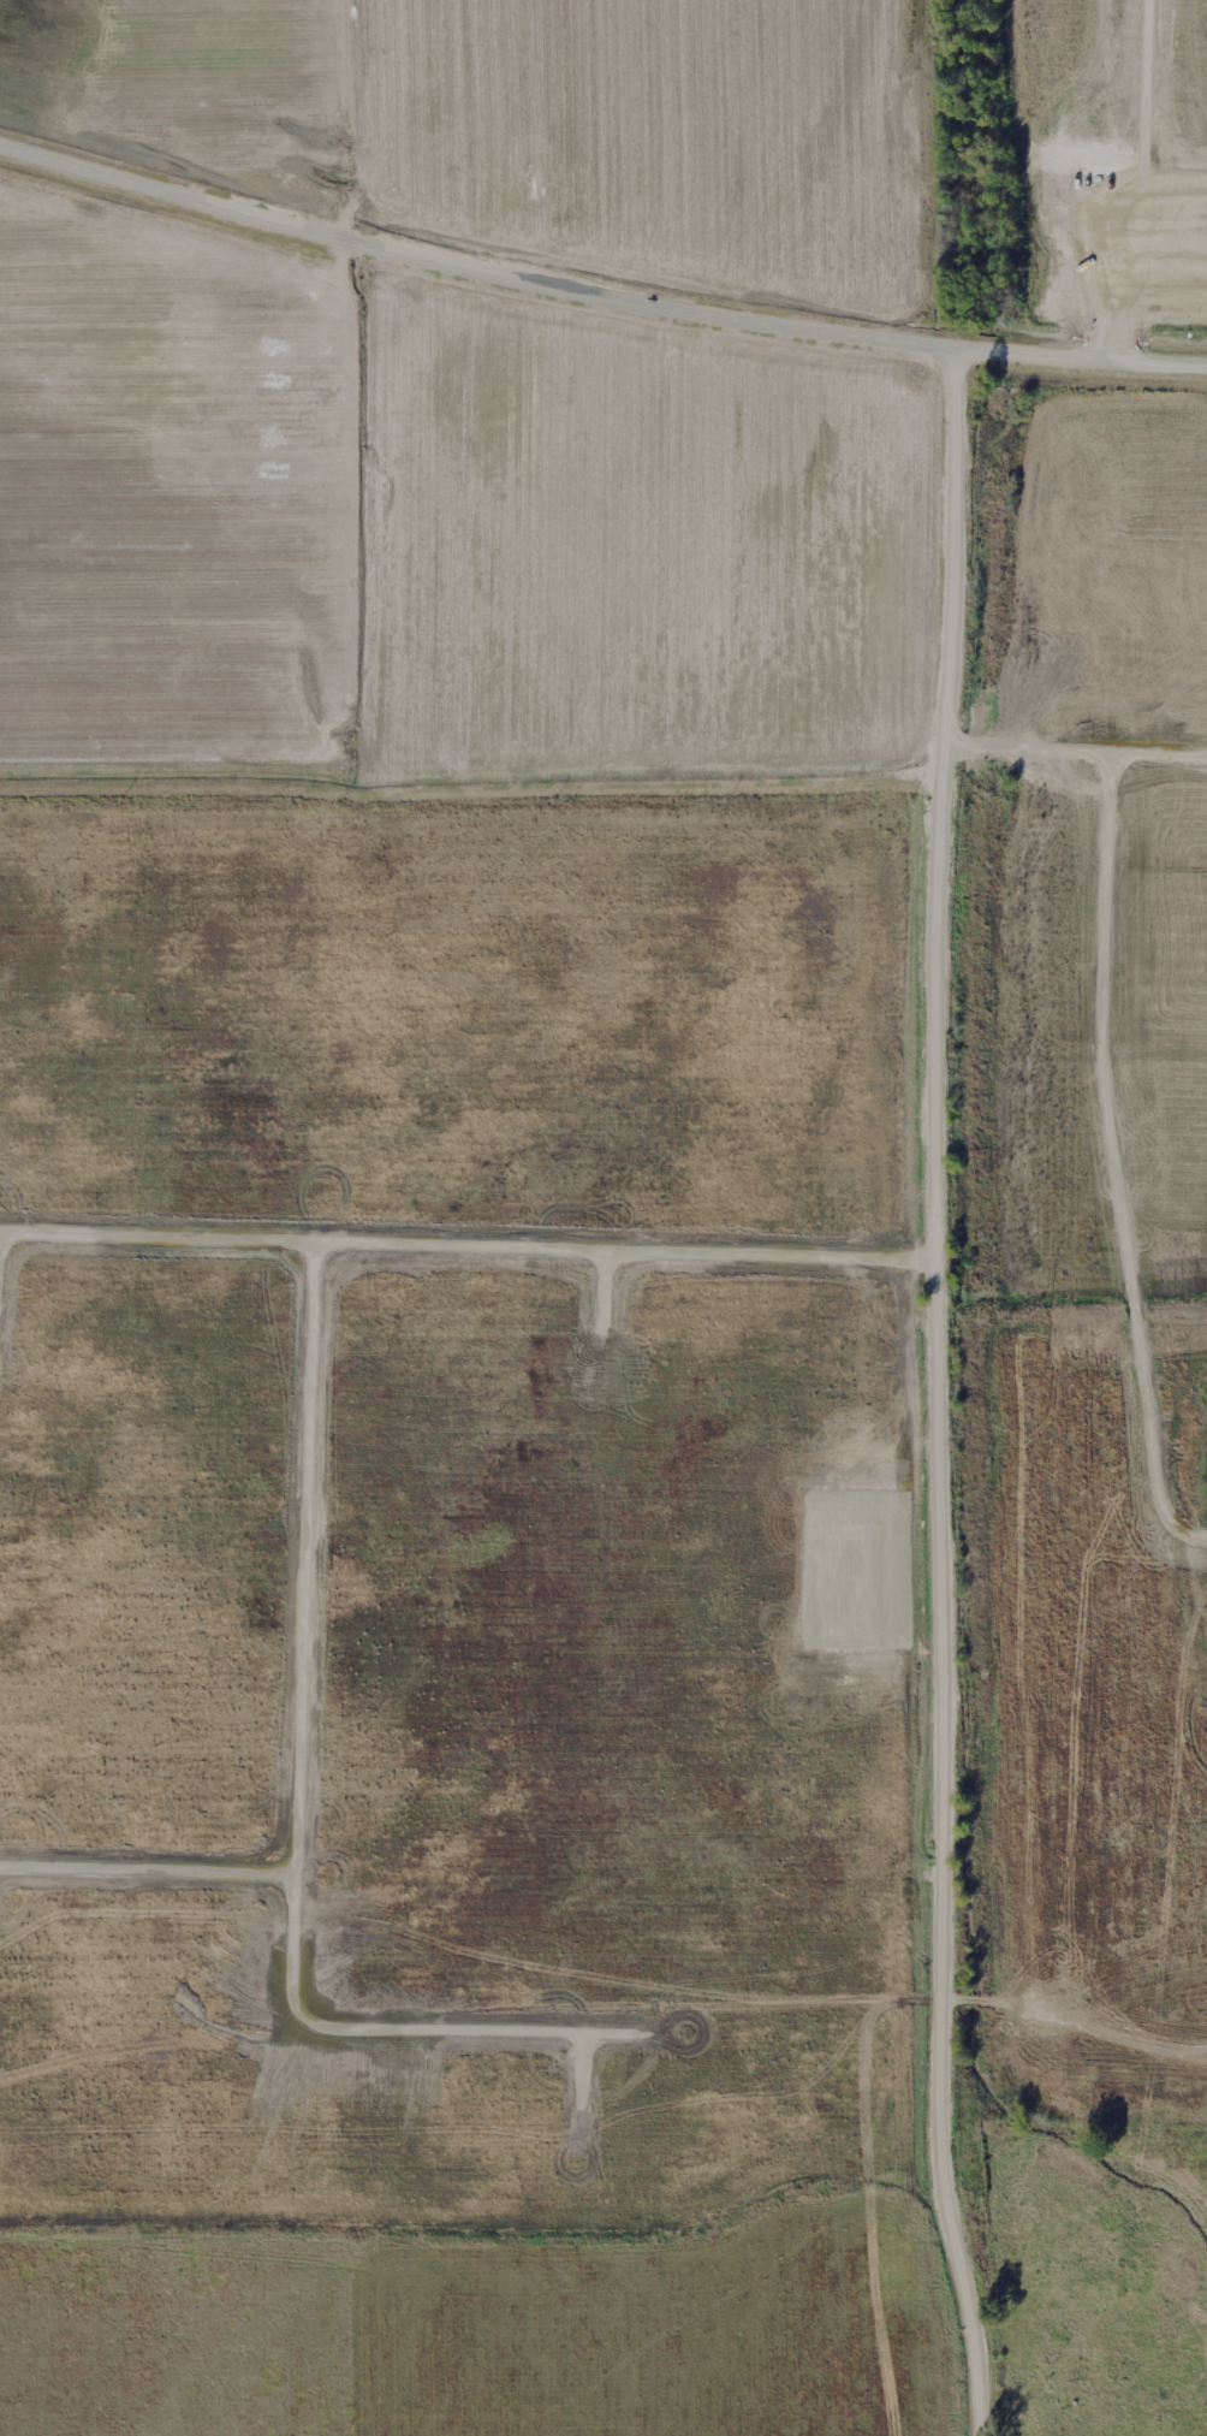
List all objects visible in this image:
road: (596, 297)
road: (946, 1392)

